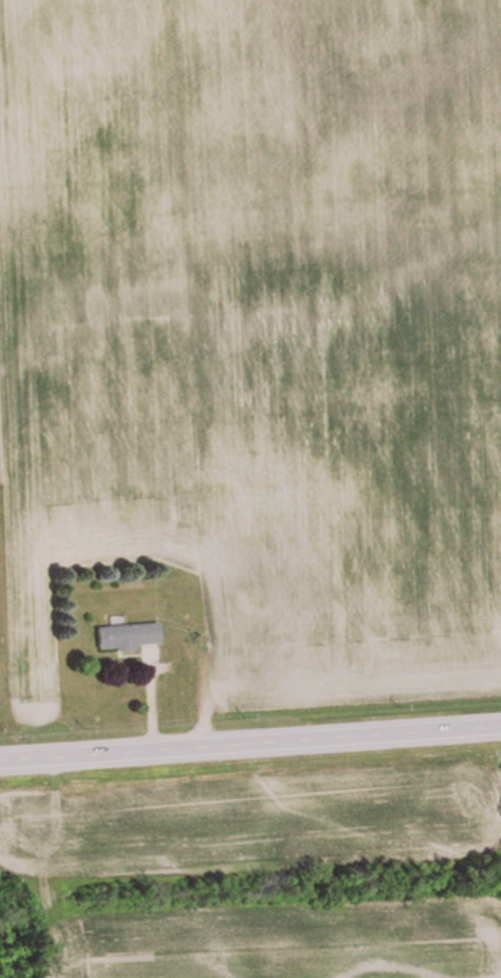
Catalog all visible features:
building: (127, 638)
road: (250, 740)

